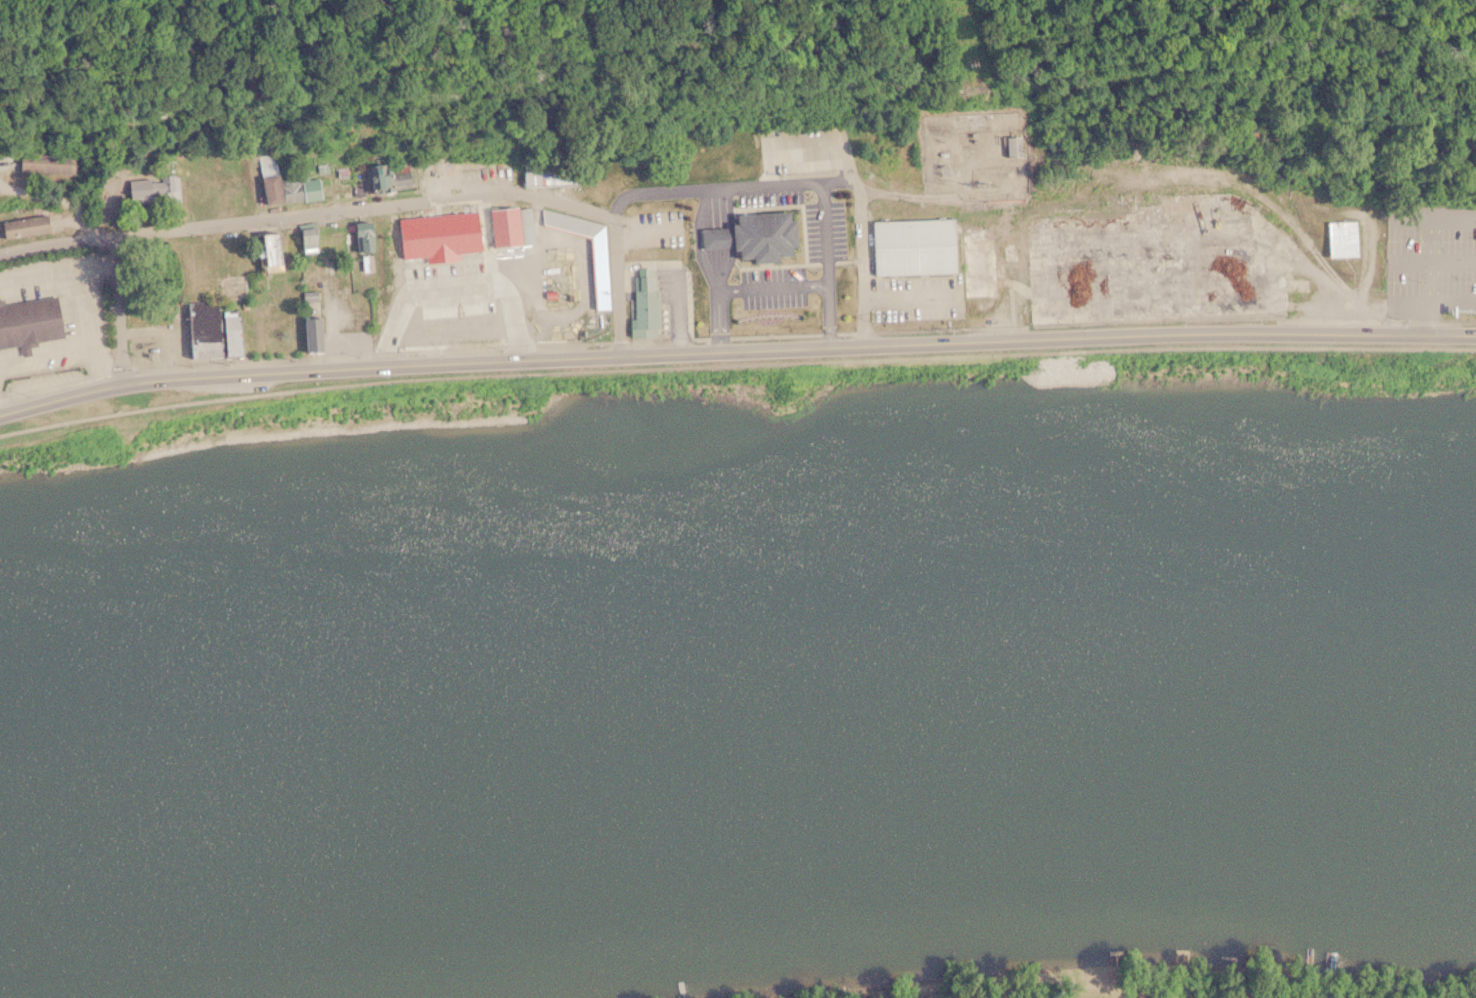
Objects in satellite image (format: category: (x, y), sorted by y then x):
building: (1013, 147)
power substation: (971, 155)
building: (386, 177)
building: (531, 178)
building: (283, 184)
building: (151, 190)
road: (375, 206)
building: (22, 226)
building: (508, 226)
building: (361, 238)
building: (1340, 239)
building: (319, 243)
building: (913, 247)
building: (267, 251)
building: (1143, 258)
building: (979, 262)
parking lot: (1434, 264)
building: (598, 273)
road: (115, 308)
building: (643, 312)
building: (28, 320)
building: (310, 321)
building: (482, 327)
building: (210, 329)
road: (735, 350)
road: (735, 363)
river: (736, 684)

